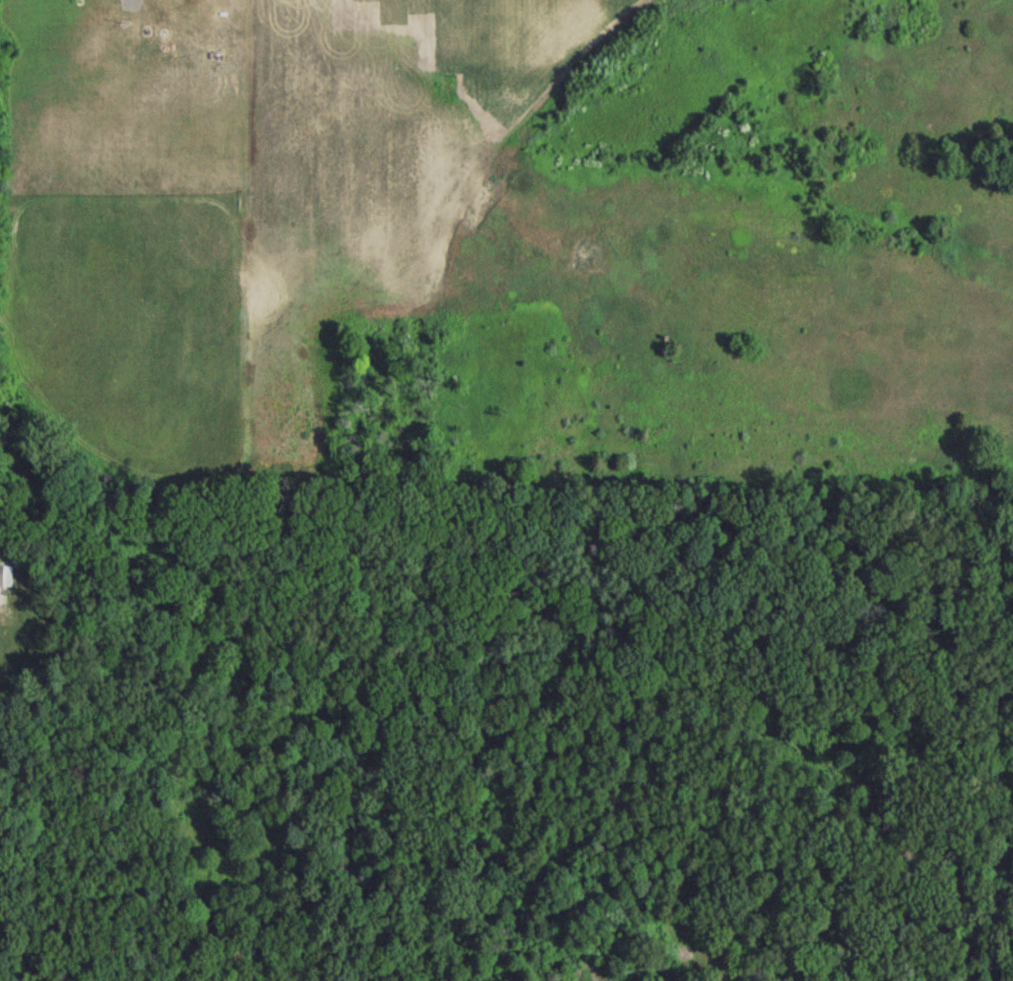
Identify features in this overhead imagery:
building: (3, 580)

